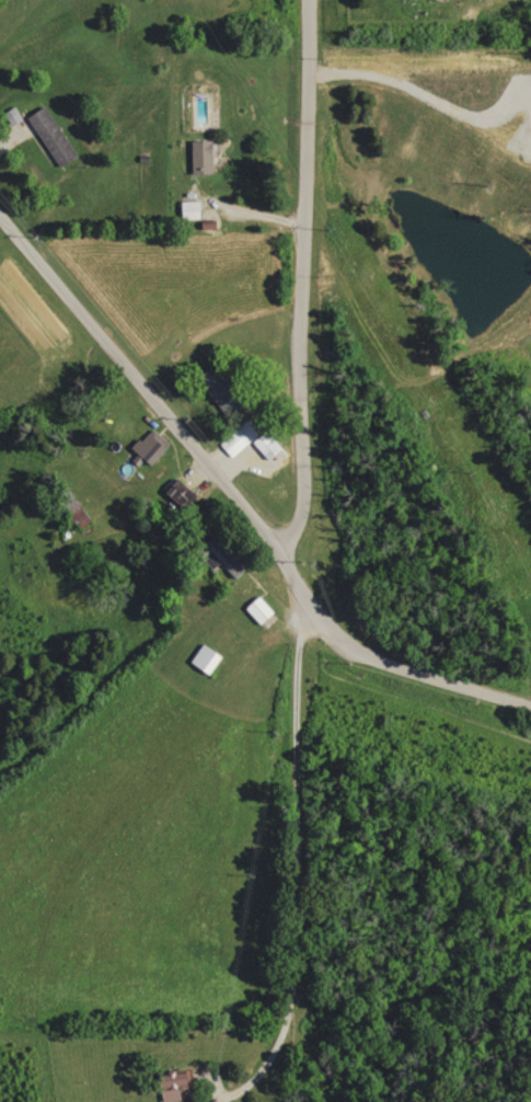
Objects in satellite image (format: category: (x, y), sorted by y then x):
building: (57, 135)
building: (208, 156)
building: (195, 209)
road: (298, 278)
building: (227, 389)
building: (257, 438)
building: (155, 445)
road: (239, 502)
building: (230, 556)
building: (264, 610)
building: (211, 658)
road: (296, 864)
building: (180, 1083)

